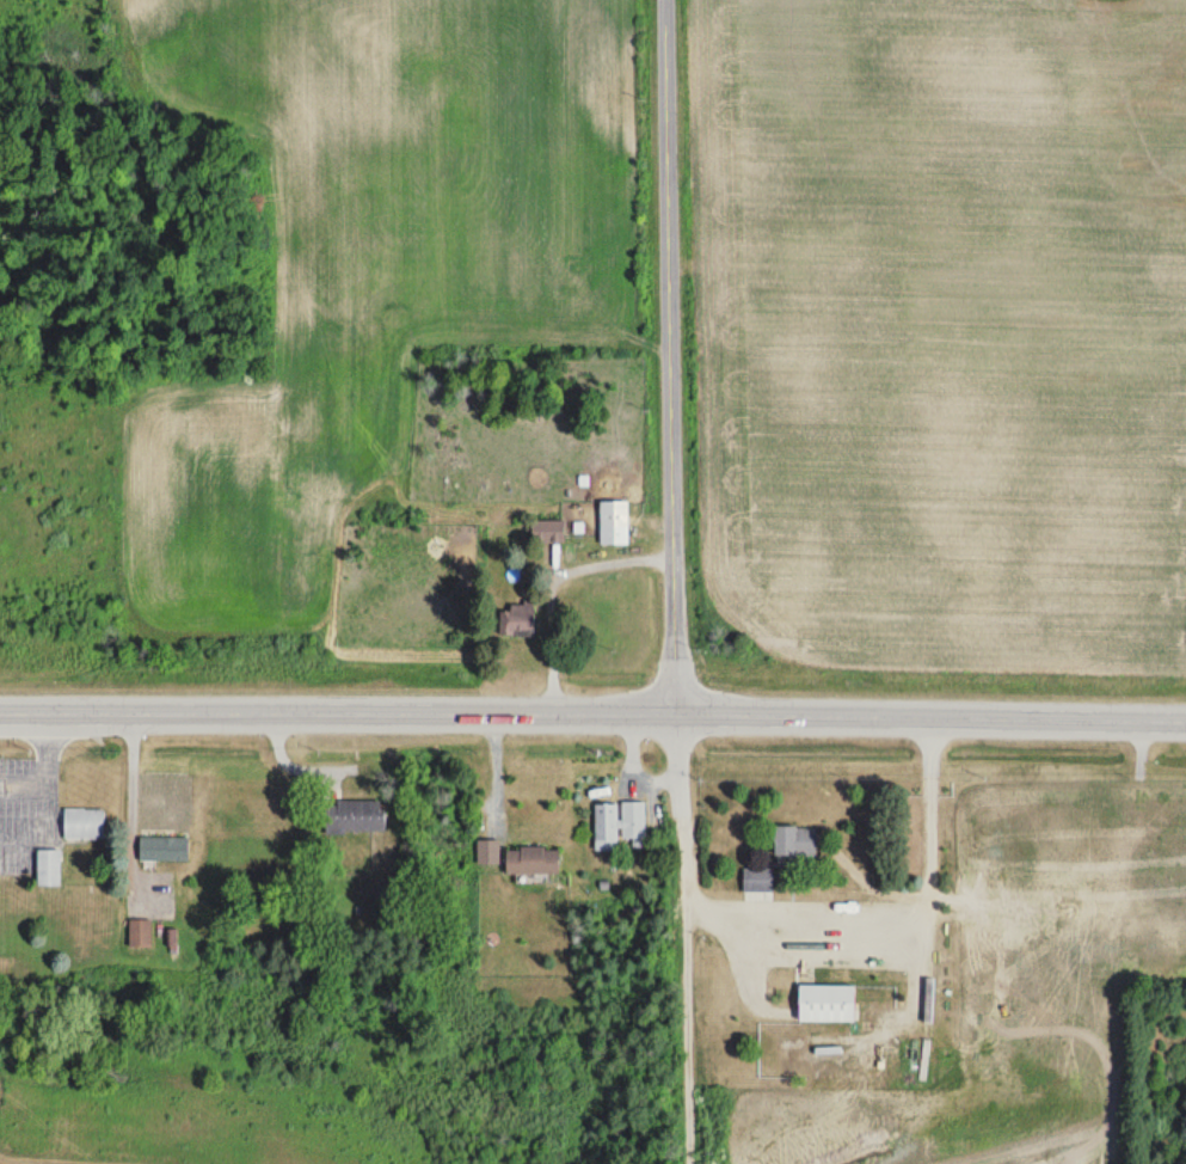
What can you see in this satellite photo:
road: (669, 353)
building: (614, 522)
building: (548, 531)
building: (520, 619)
road: (592, 706)
road: (21, 774)
road: (44, 789)
parking lot: (16, 807)
building: (81, 808)
building: (352, 816)
building: (620, 821)
building: (84, 823)
building: (794, 840)
building: (162, 849)
building: (488, 851)
building: (49, 854)
building: (531, 859)
building: (1119, 901)
building: (139, 930)
road: (681, 935)
building: (826, 1004)

